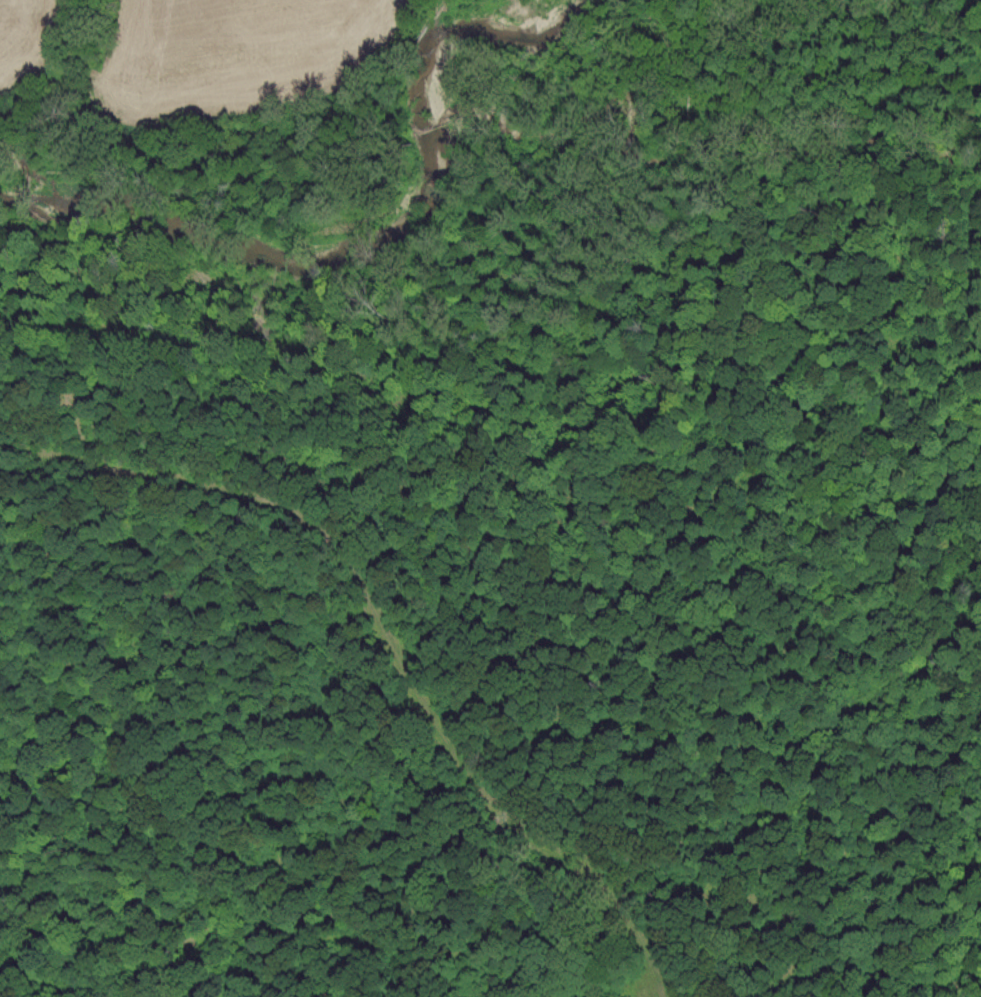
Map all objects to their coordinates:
road: (381, 652)

